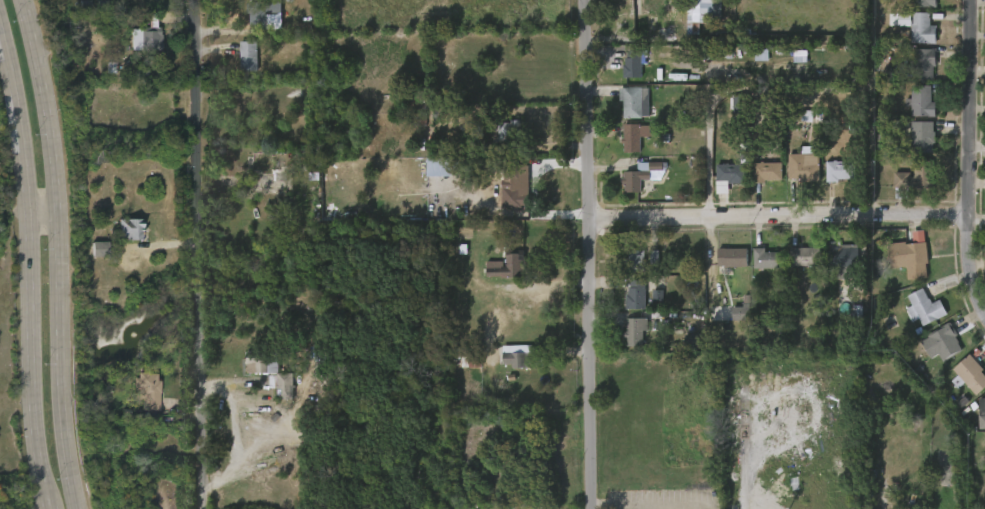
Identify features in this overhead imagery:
building: (925, 3)
building: (259, 15)
building: (703, 16)
building: (921, 28)
building: (146, 36)
building: (761, 55)
building: (247, 56)
building: (799, 57)
building: (923, 63)
building: (635, 64)
road: (789, 90)
building: (919, 99)
building: (633, 101)
building: (740, 105)
building: (509, 130)
building: (925, 134)
building: (635, 137)
building: (804, 164)
building: (268, 167)
building: (439, 167)
building: (839, 170)
building: (765, 171)
building: (731, 173)
building: (641, 174)
road: (964, 176)
building: (315, 178)
building: (913, 179)
building: (512, 186)
road: (776, 215)
road: (42, 221)
building: (131, 228)
building: (100, 249)
road: (57, 253)
road: (201, 254)
road: (588, 254)
building: (804, 256)
building: (732, 257)
building: (769, 258)
building: (844, 260)
building: (634, 261)
building: (912, 261)
building: (510, 265)
road: (29, 268)
building: (635, 295)
building: (925, 307)
building: (853, 312)
building: (741, 313)
building: (634, 332)
building: (694, 341)
building: (944, 342)
building: (516, 356)
building: (269, 372)
building: (972, 373)
building: (146, 390)
building: (983, 404)
building: (982, 421)
road: (598, 504)

